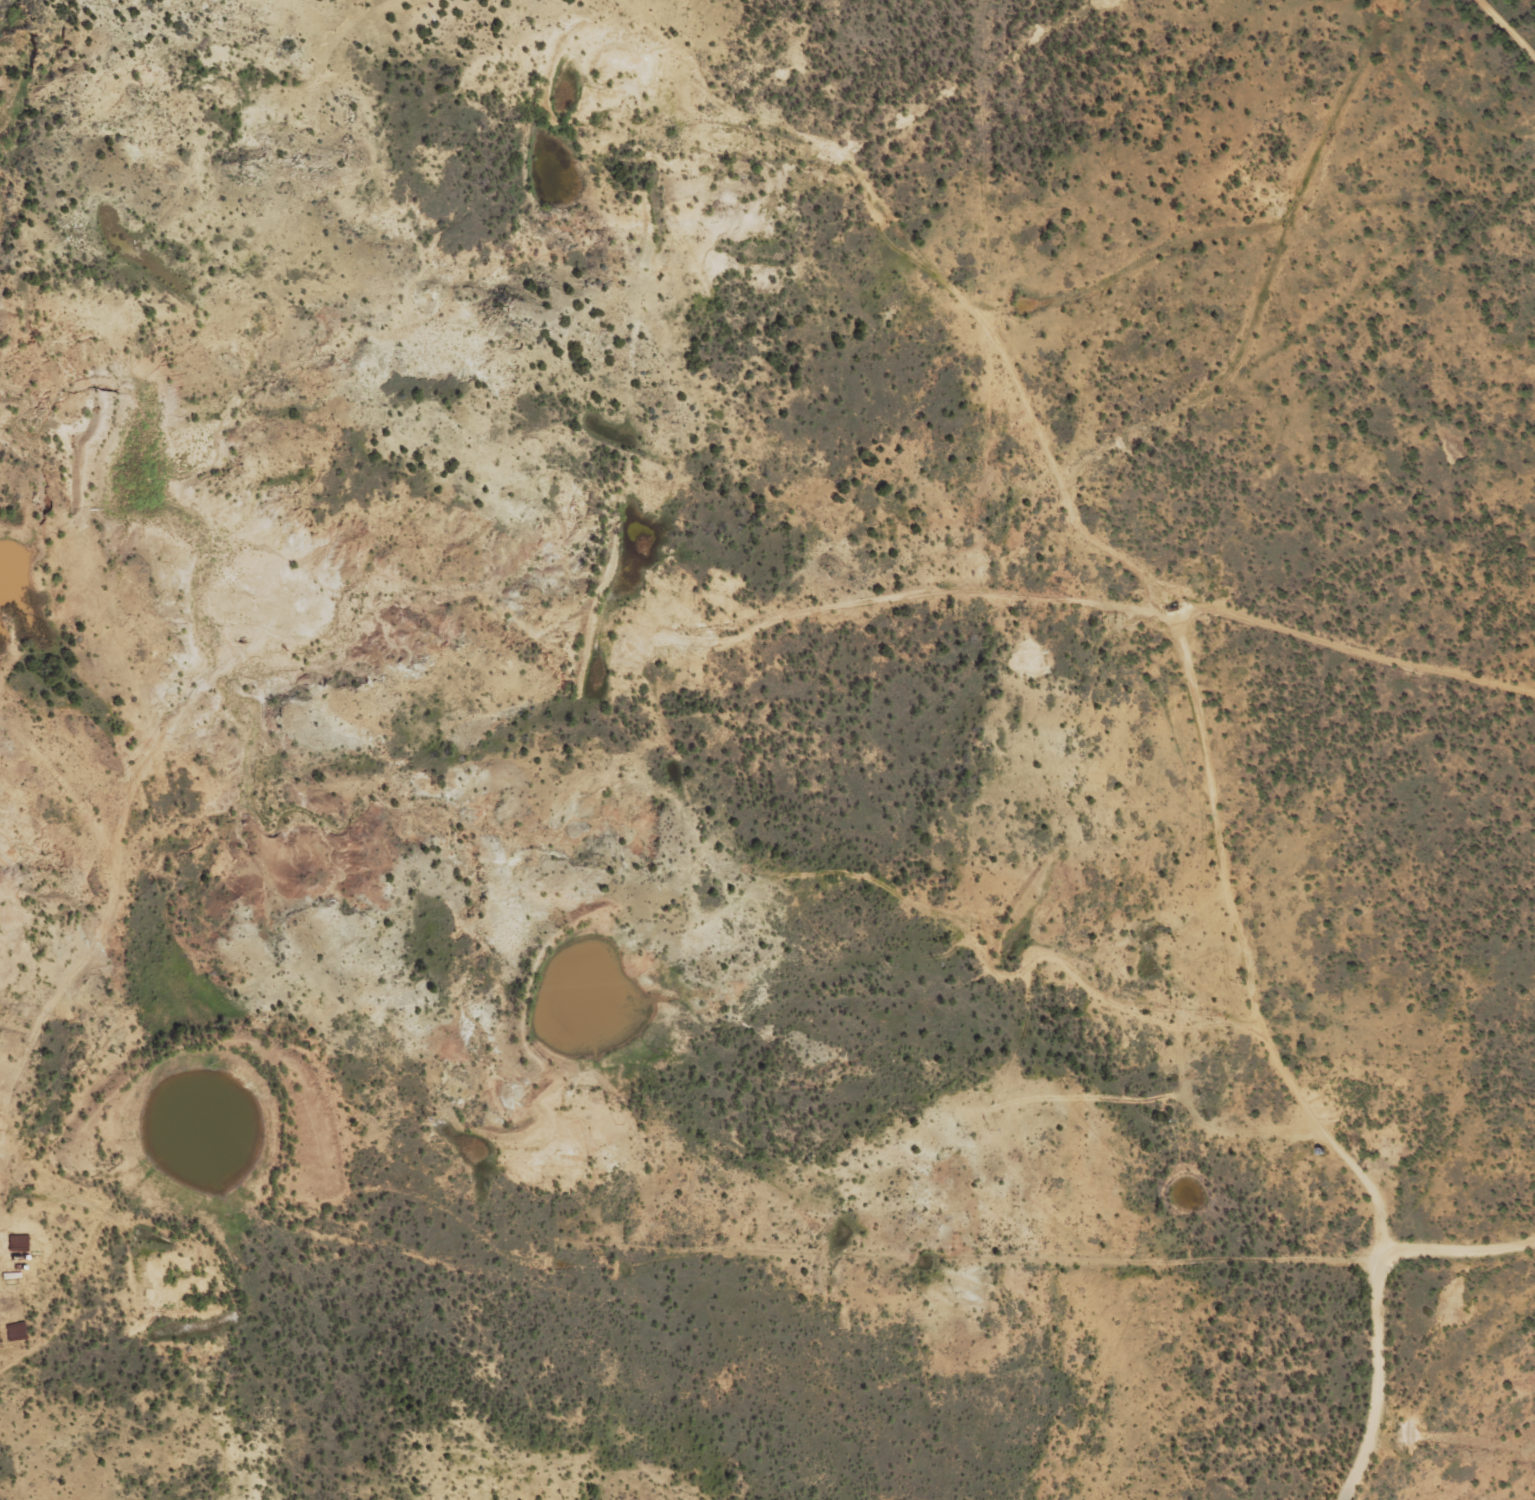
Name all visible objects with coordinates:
road: (1449, 9)
road: (1340, 208)
road: (714, 316)
road: (1262, 901)
road: (942, 1280)
road: (1470, 1431)

